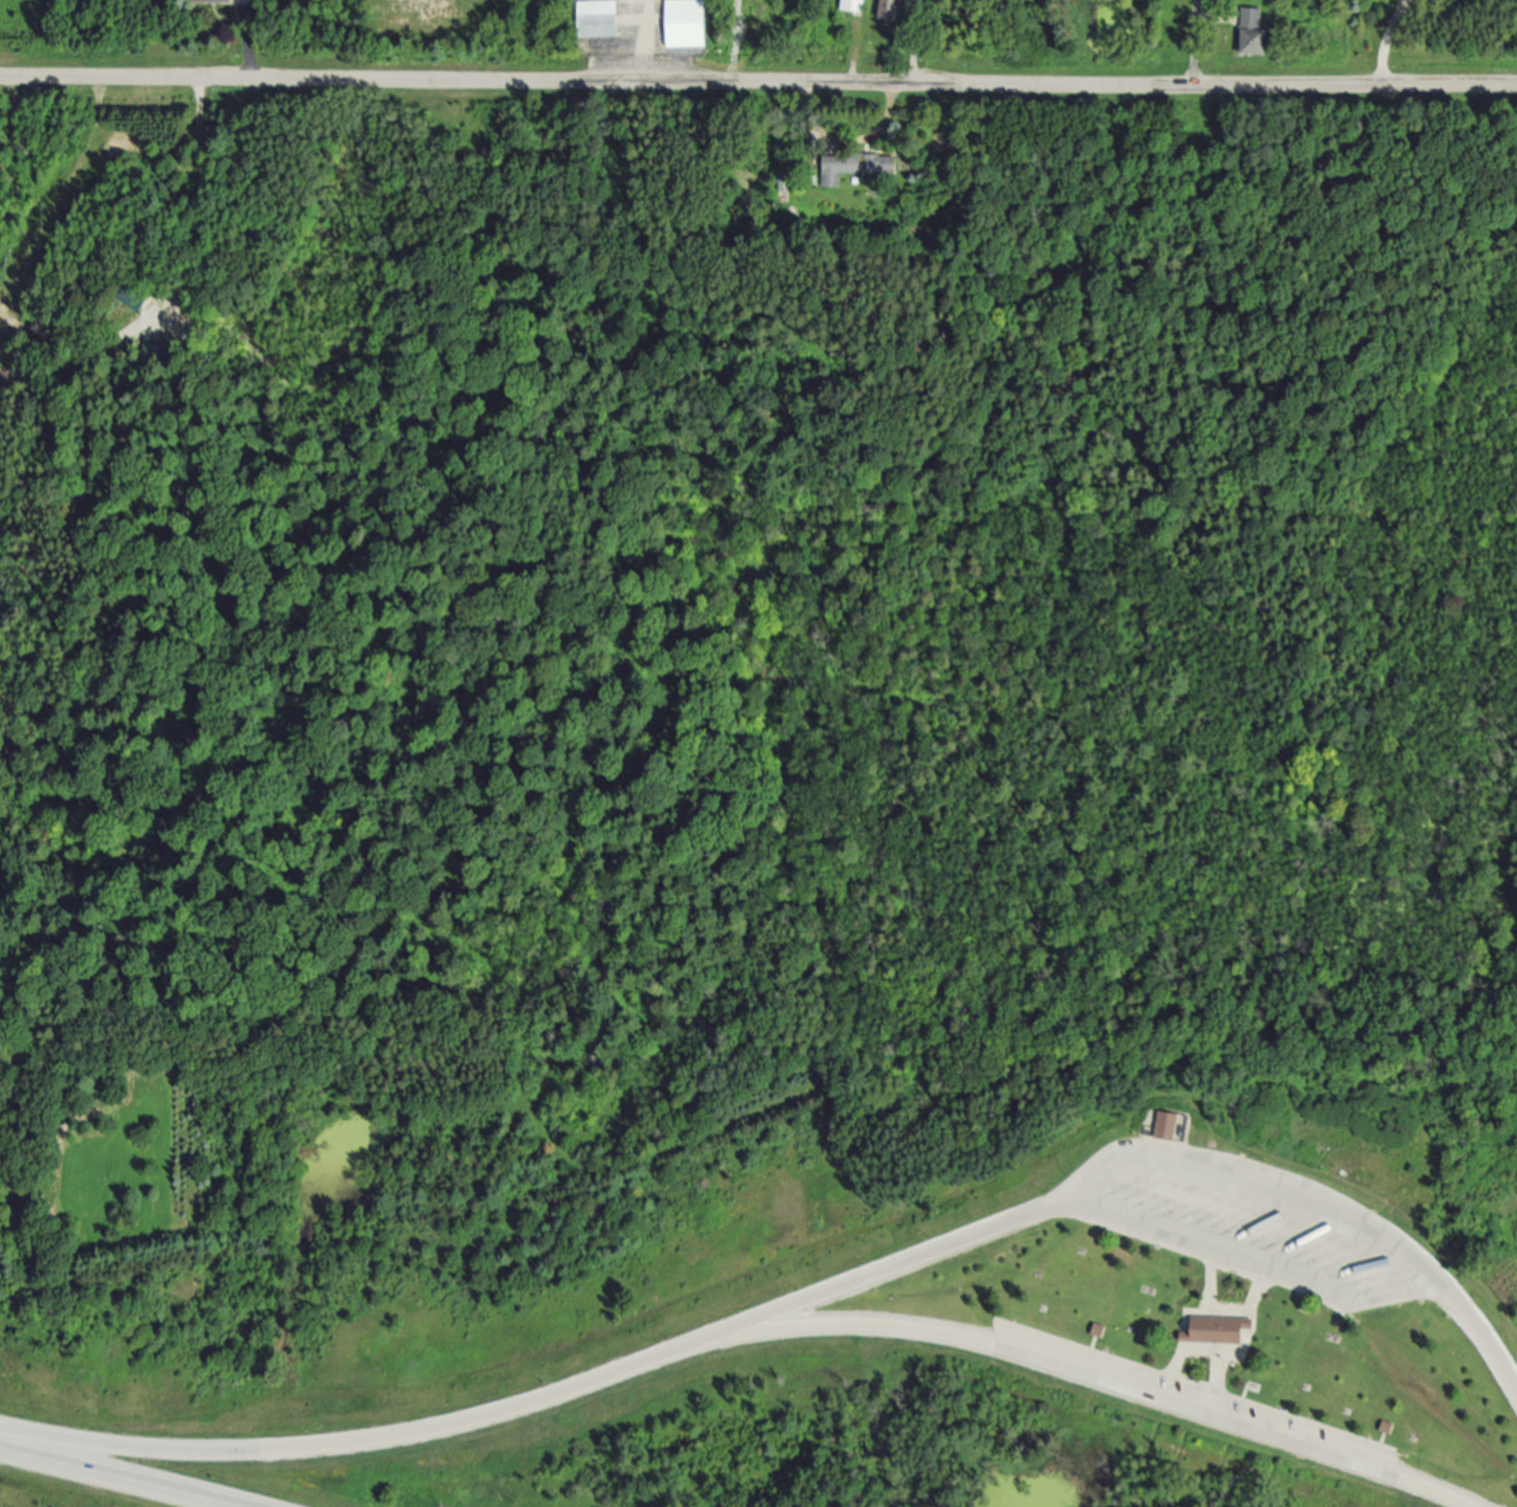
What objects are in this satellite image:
building: (214, 3)
building: (852, 6)
building: (890, 10)
building: (597, 19)
building: (685, 24)
building: (1253, 33)
road: (1387, 39)
road: (646, 41)
road: (918, 42)
road: (1195, 43)
road: (245, 52)
road: (758, 83)
building: (853, 167)
building: (1170, 1125)
road: (1148, 1156)
parking lot: (1260, 1232)
building: (1220, 1331)
road: (1105, 1377)
parking lot: (1201, 1398)
road: (368, 1449)
road: (115, 1478)

